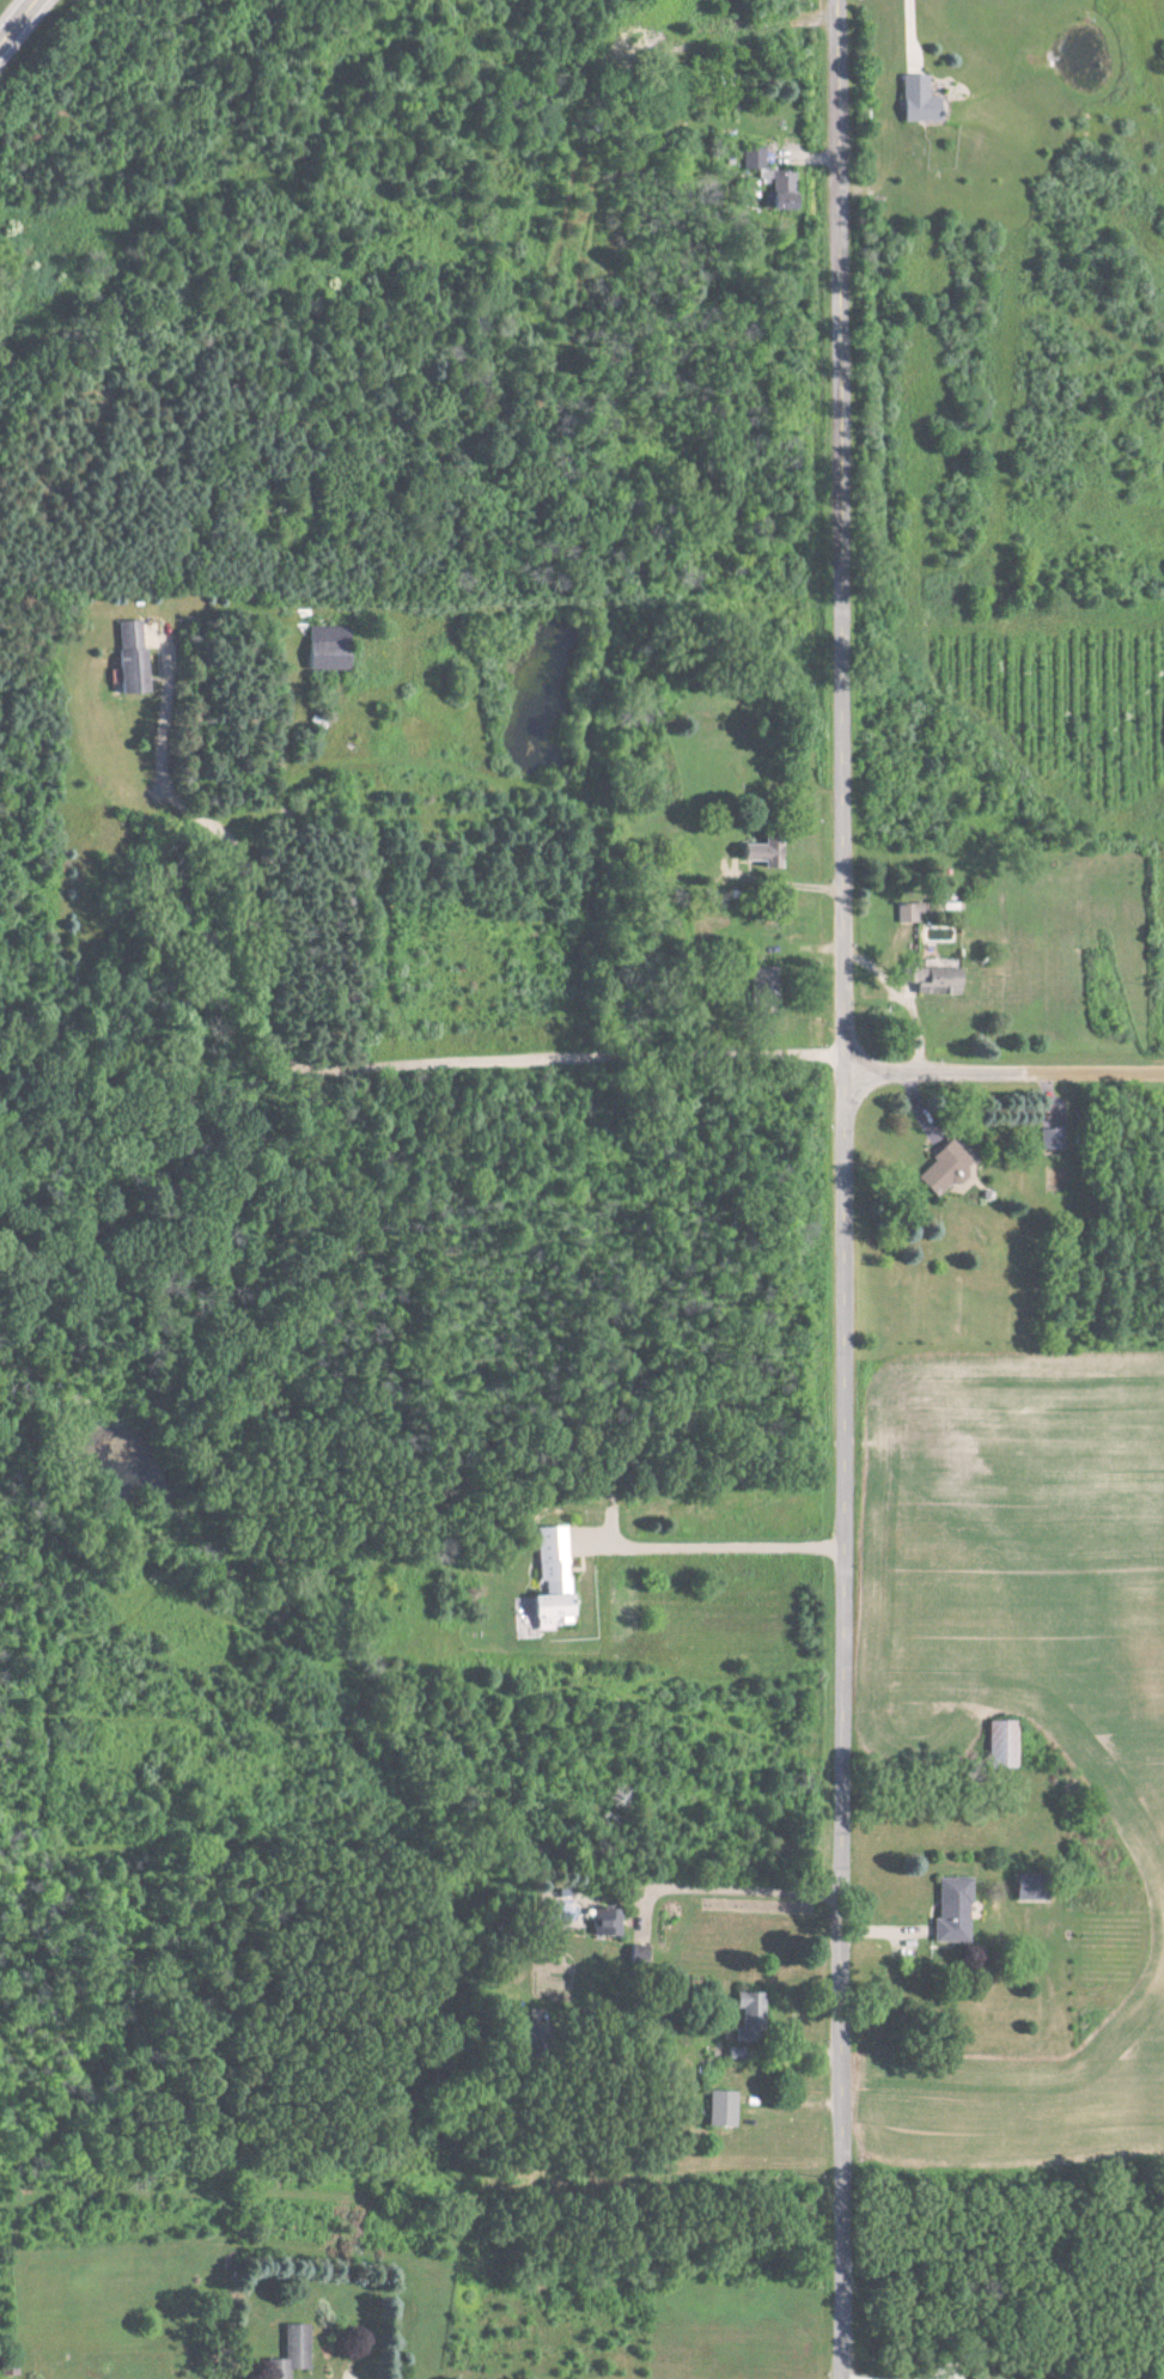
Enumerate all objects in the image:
road: (18, 23)
road: (909, 28)
building: (913, 99)
building: (751, 159)
building: (780, 183)
building: (323, 649)
building: (126, 657)
road: (281, 774)
building: (754, 853)
building: (903, 913)
road: (335, 1053)
road: (1005, 1073)
building: (1050, 1143)
building: (943, 1170)
road: (845, 1188)
road: (733, 1545)
building: (548, 1580)
building: (999, 1744)
road: (739, 1887)
building: (949, 1911)
building: (602, 1922)
building: (633, 1954)
building: (746, 2004)
building: (719, 2109)
building: (288, 2353)

